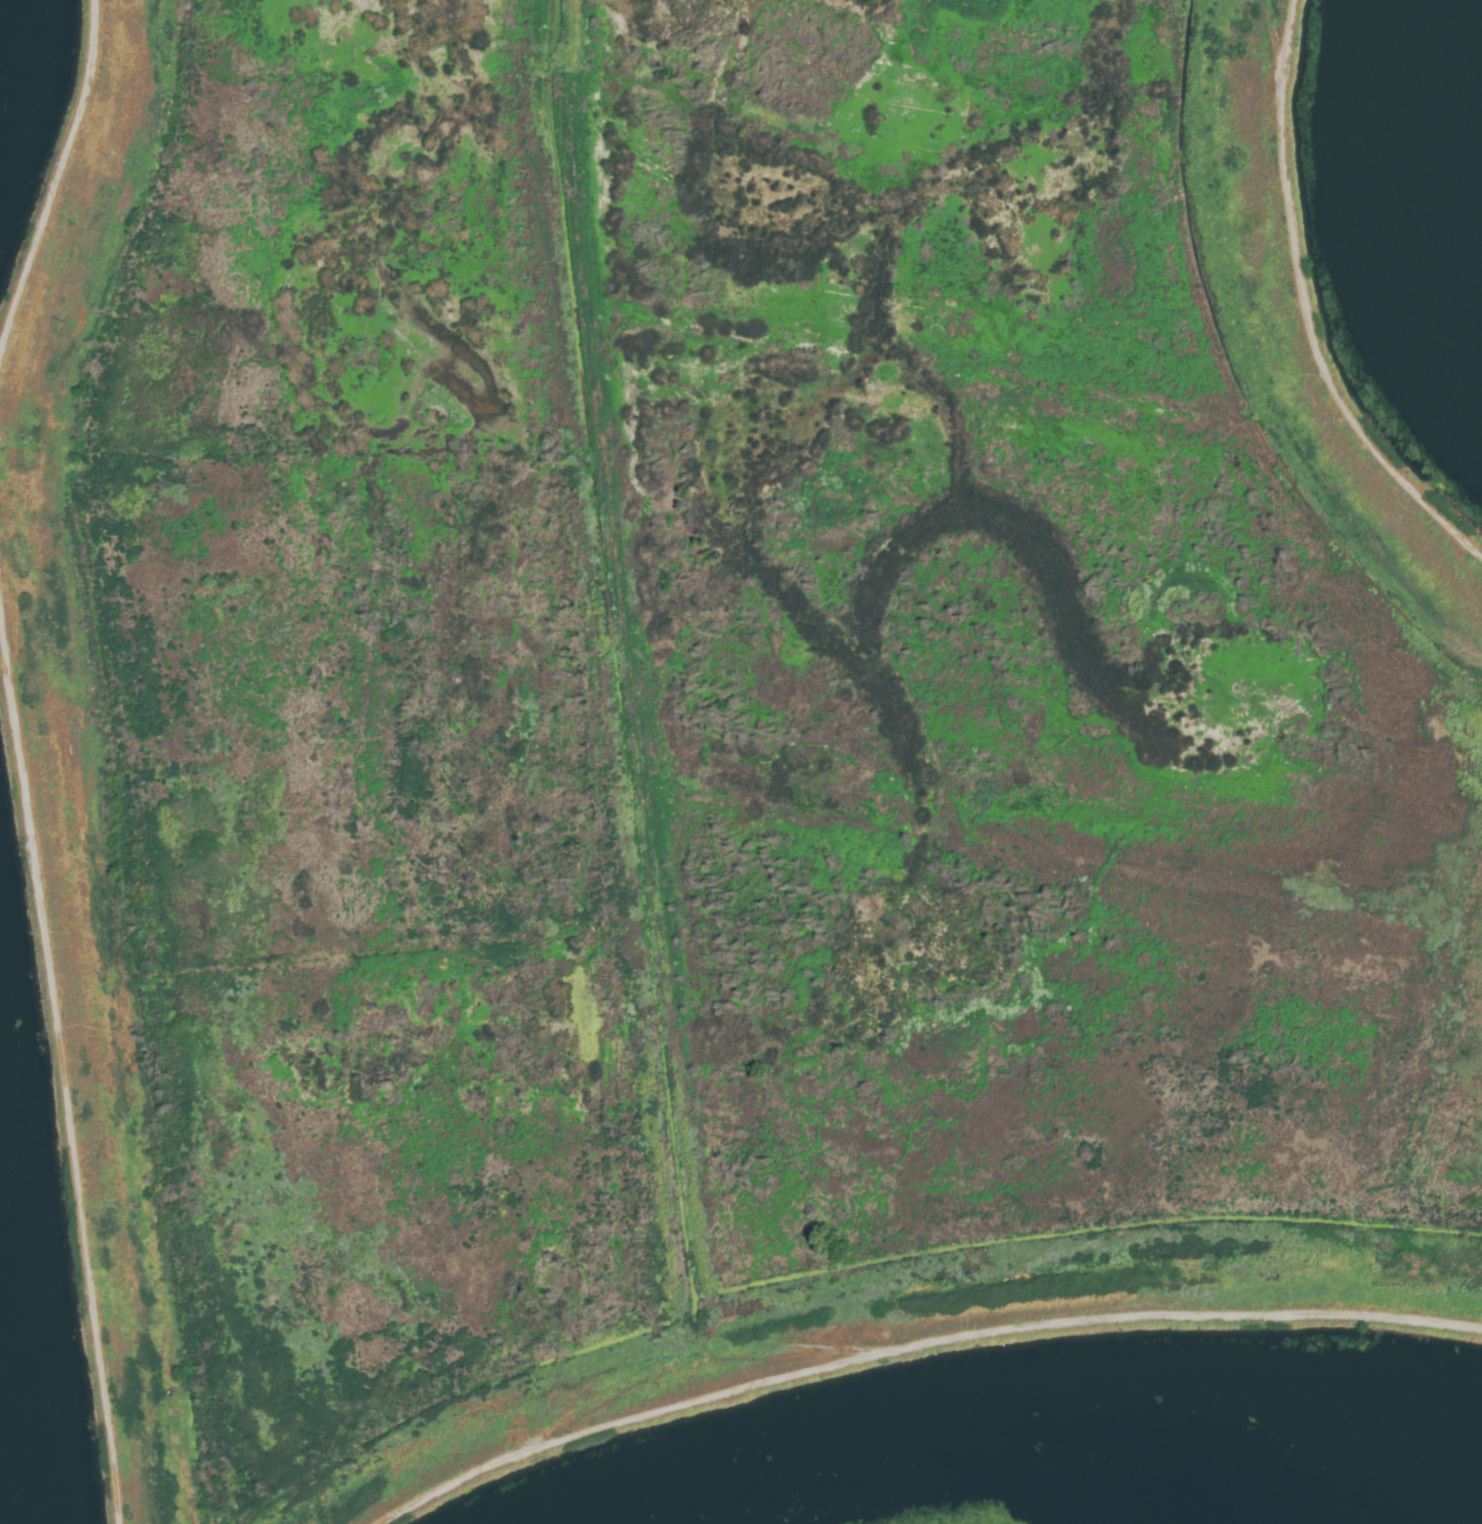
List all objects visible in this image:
river: (1436, 139)
crop: (701, 679)
river: (1206, 1503)

